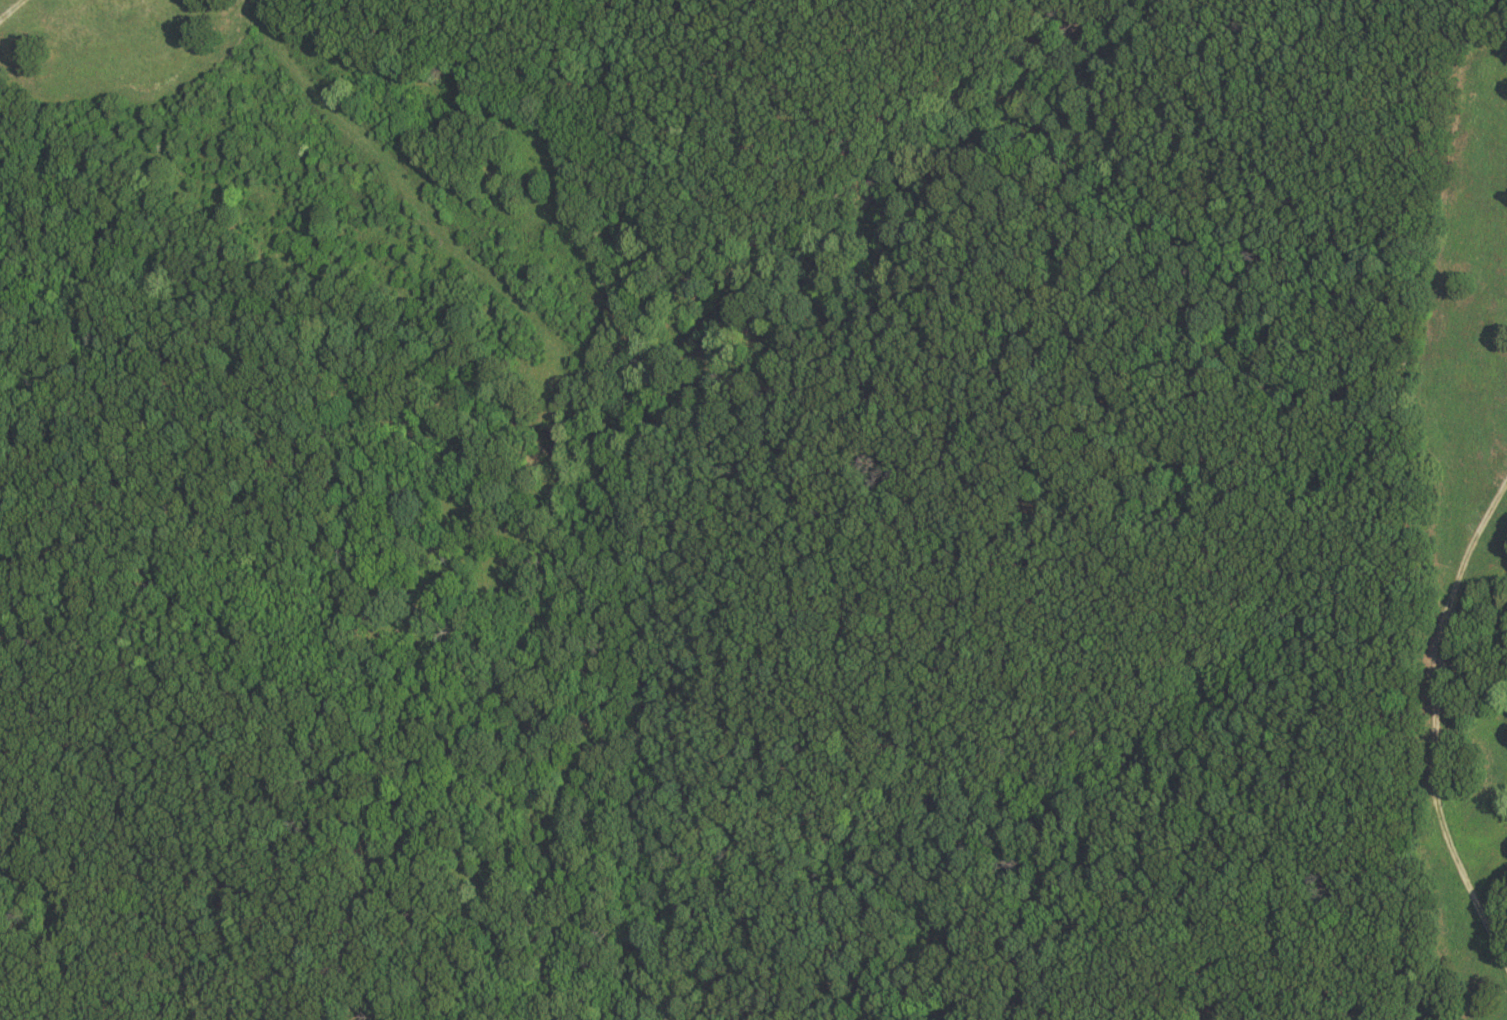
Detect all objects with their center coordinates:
road: (1439, 721)

